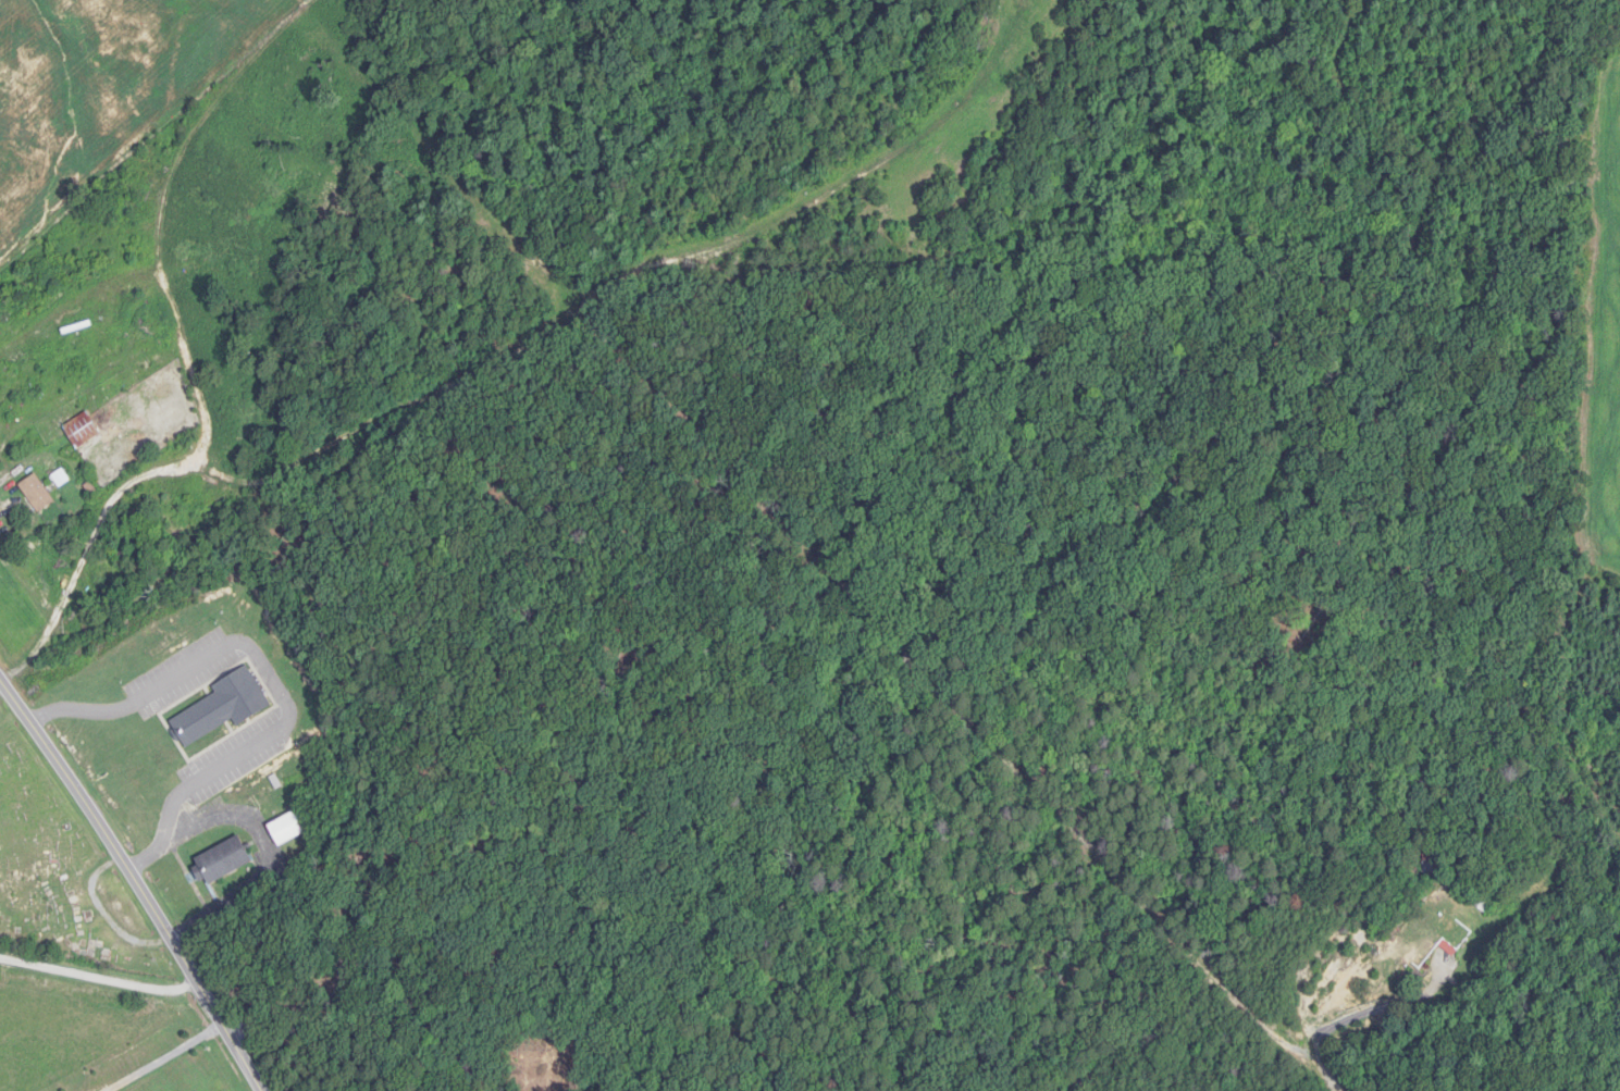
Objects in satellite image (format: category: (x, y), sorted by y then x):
building: (83, 430)
road: (4, 480)
building: (37, 493)
road: (272, 673)
building: (286, 829)
building: (223, 860)
building: (1432, 864)
road: (136, 880)
road: (100, 977)
road: (1353, 1017)
road: (166, 1057)

